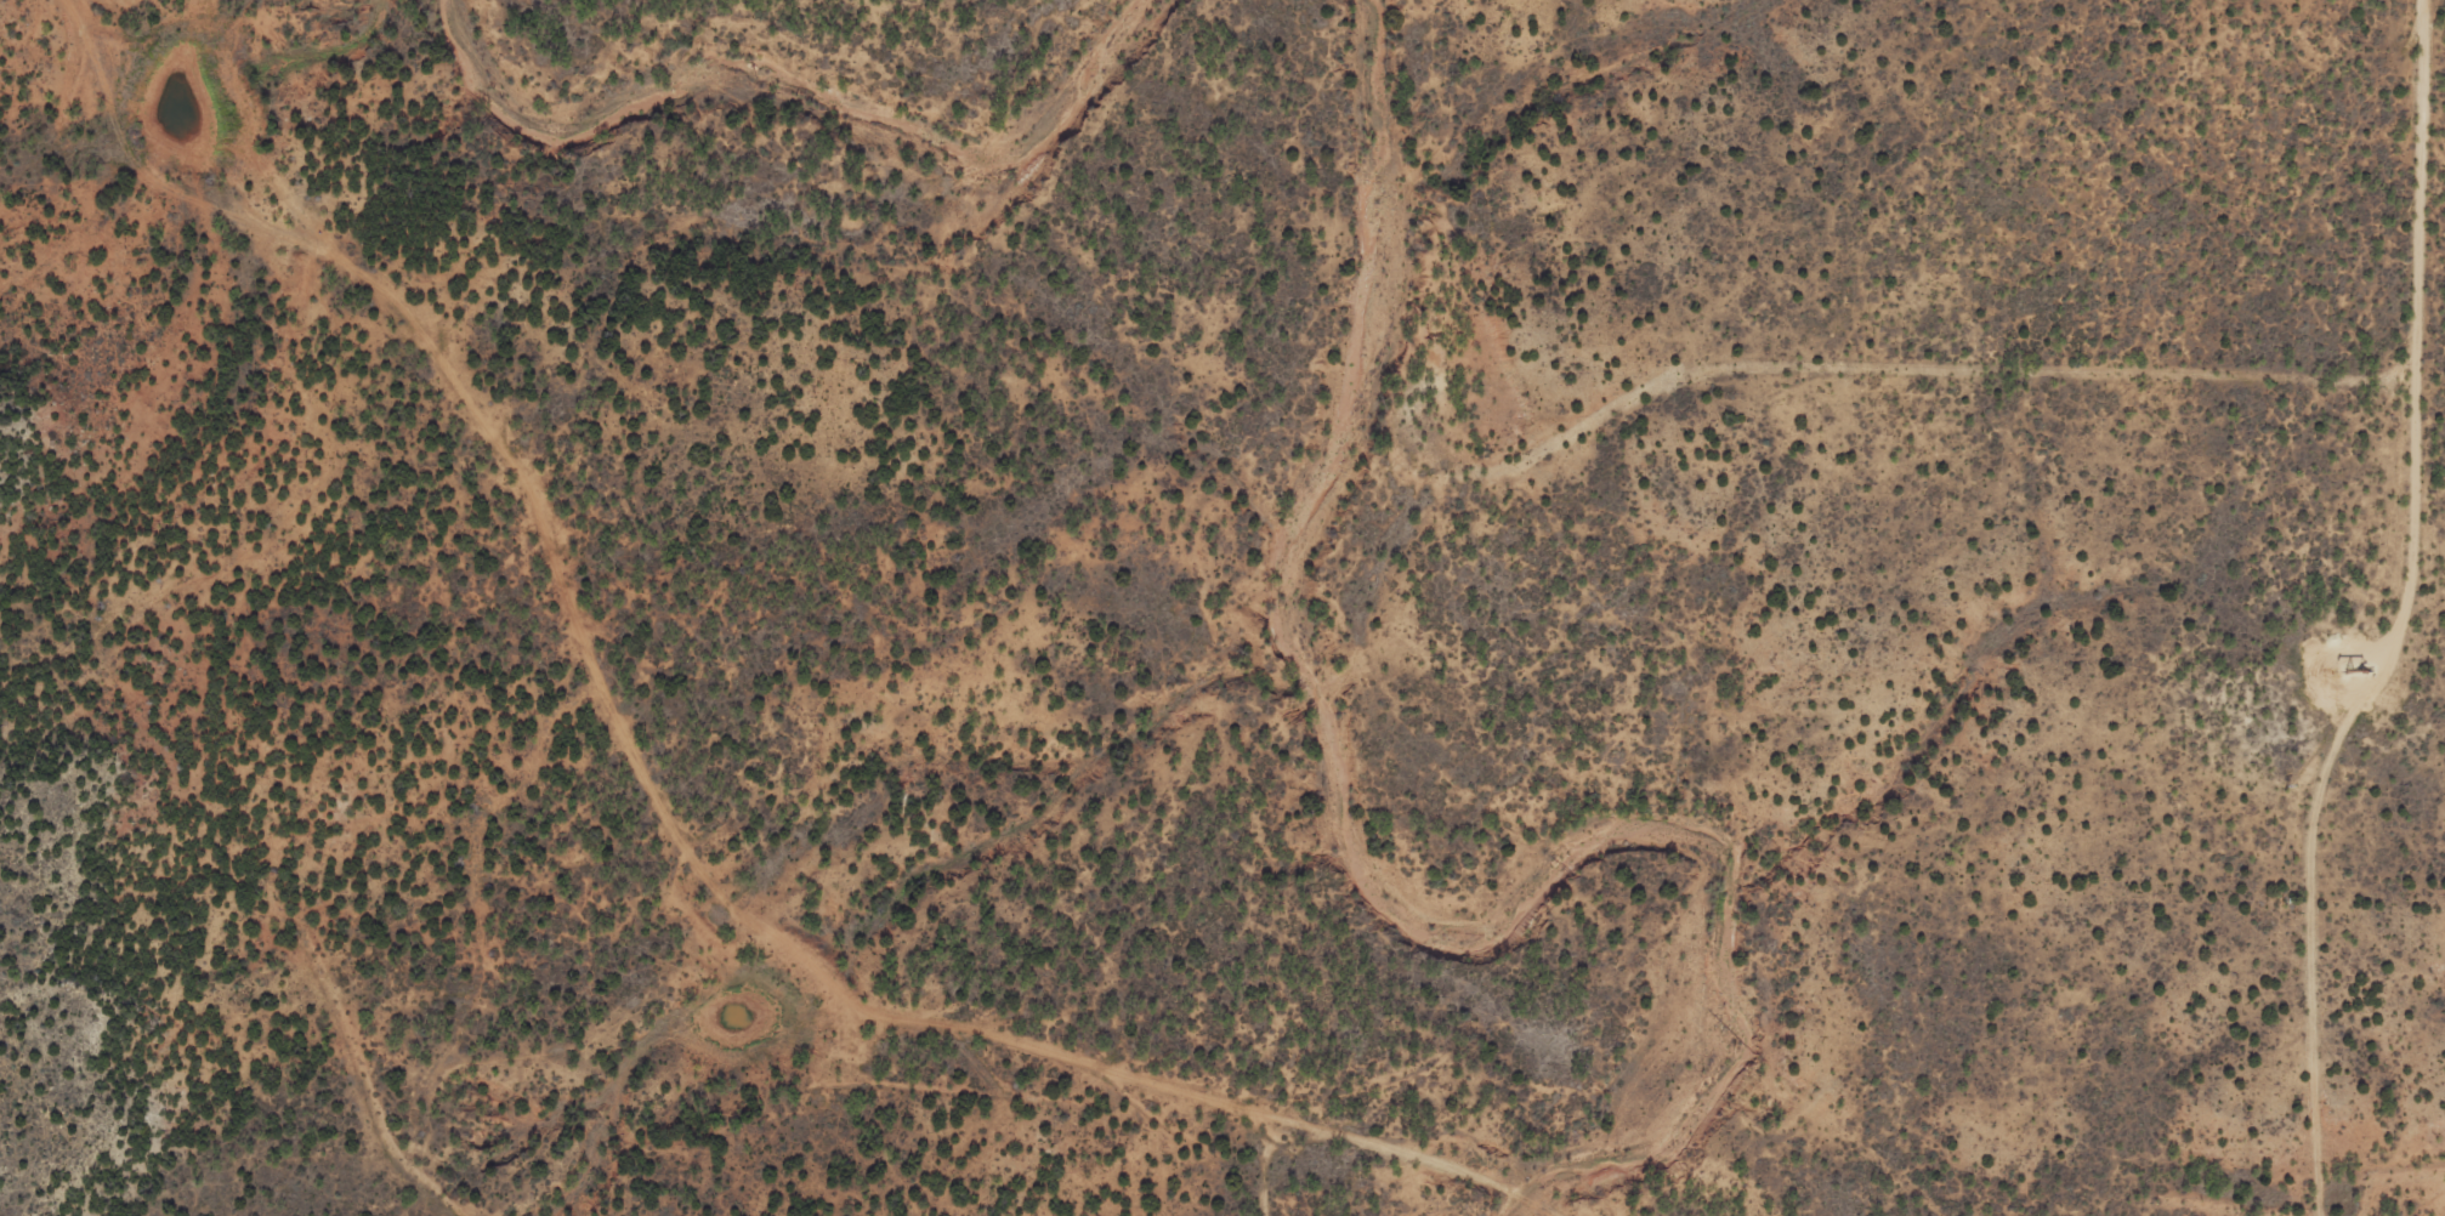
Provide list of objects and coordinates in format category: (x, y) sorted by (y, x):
road: (1871, 362)
road: (2379, 637)

